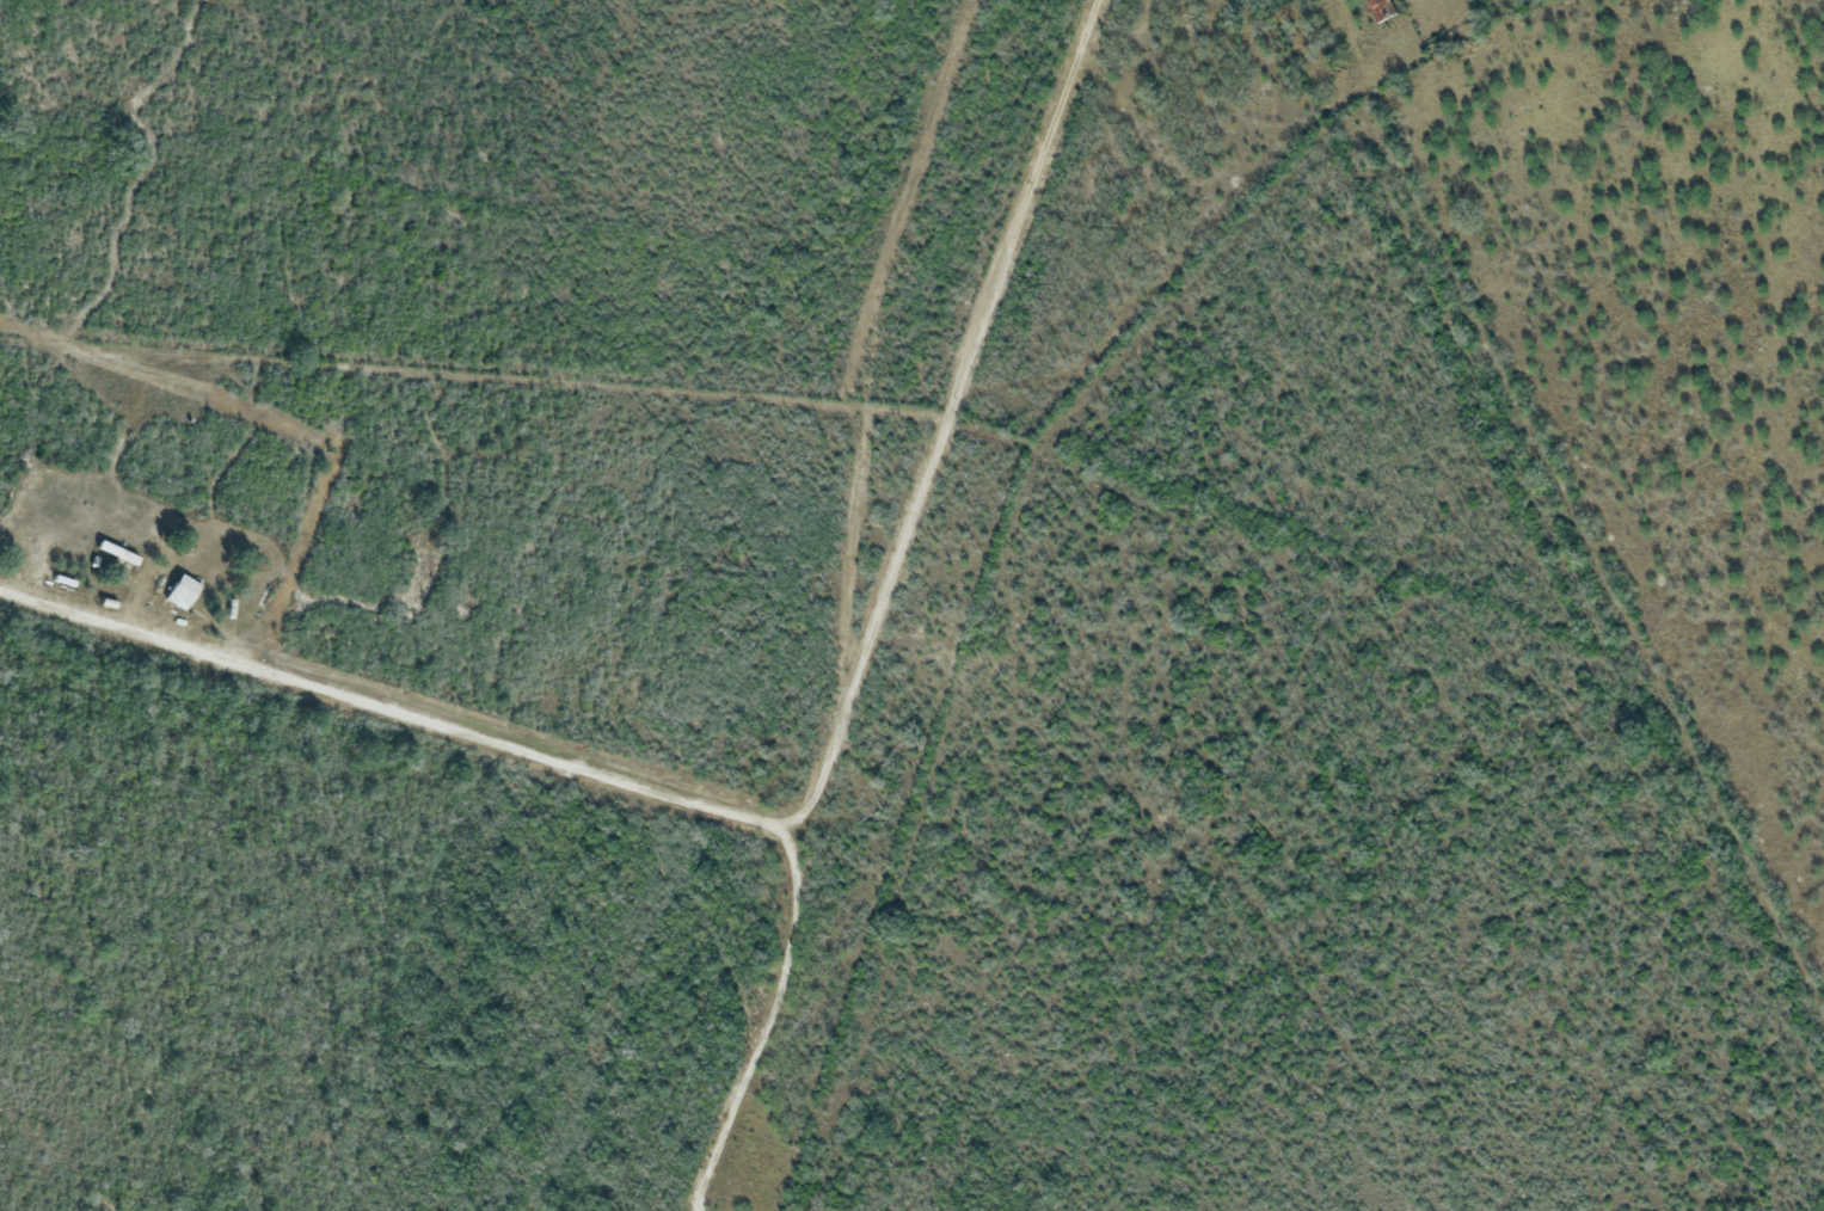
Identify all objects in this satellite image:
building: (1377, 10)
road: (941, 424)
building: (178, 590)
road: (581, 767)

